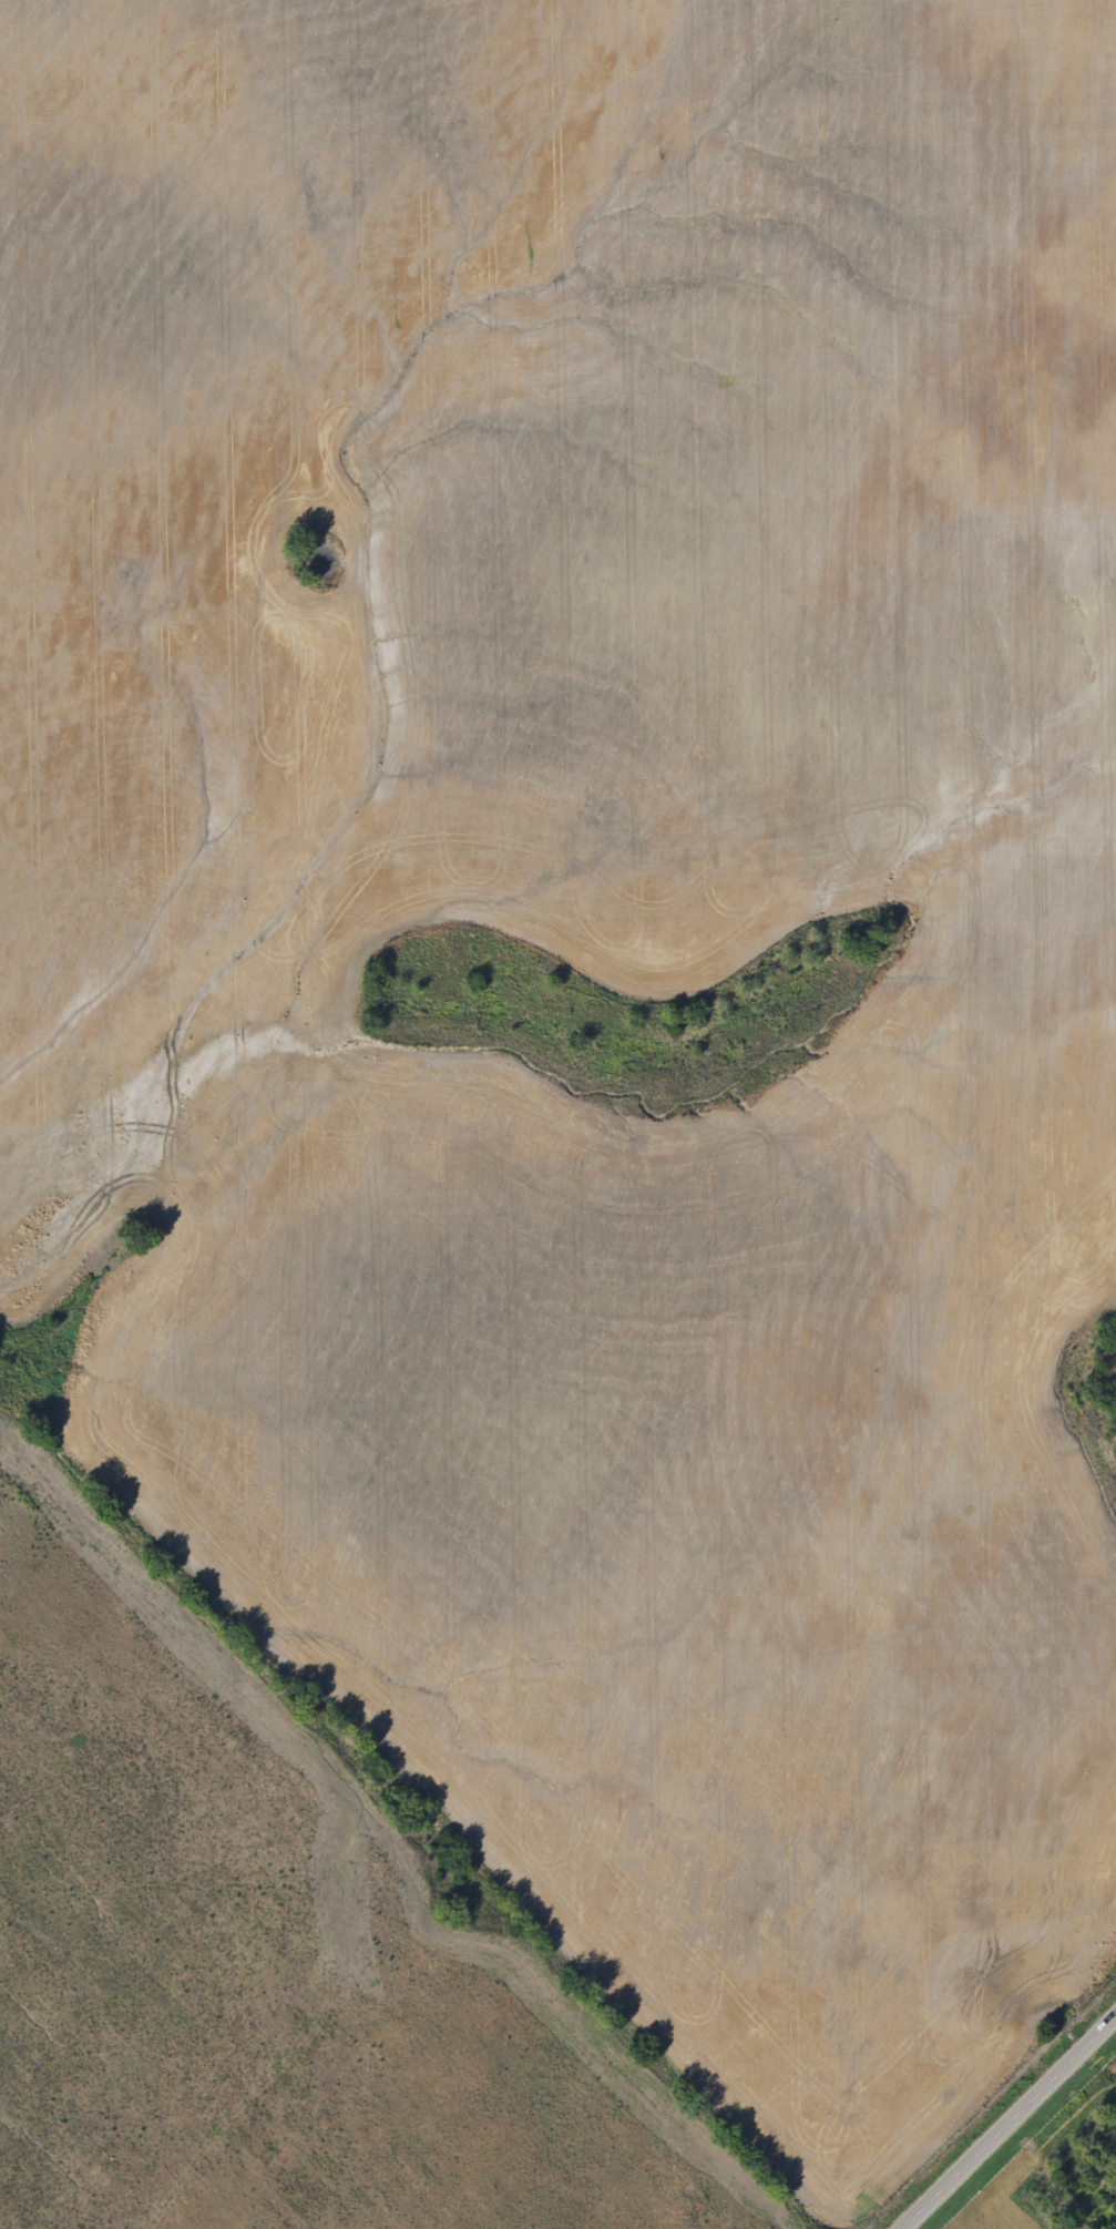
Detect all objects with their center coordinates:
road: (1005, 2119)

